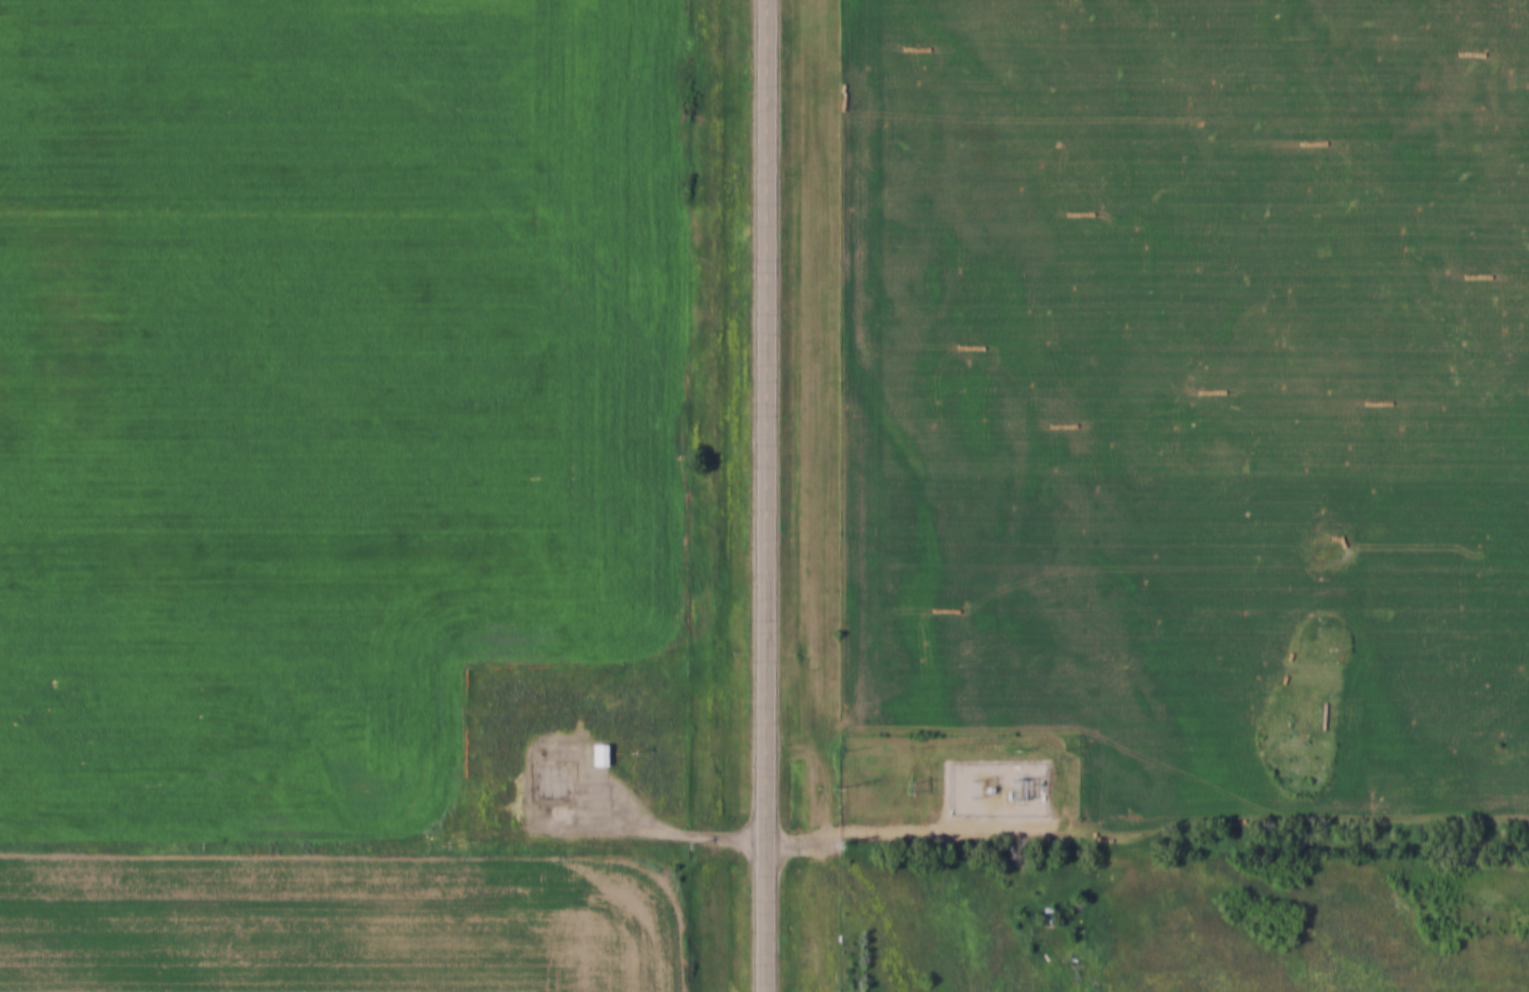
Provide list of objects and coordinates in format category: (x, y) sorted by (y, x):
crop: (314, 378)
road: (769, 495)
building: (601, 755)
power substation: (998, 789)
road: (653, 826)
road: (906, 826)
road: (871, 910)
building: (1049, 917)

